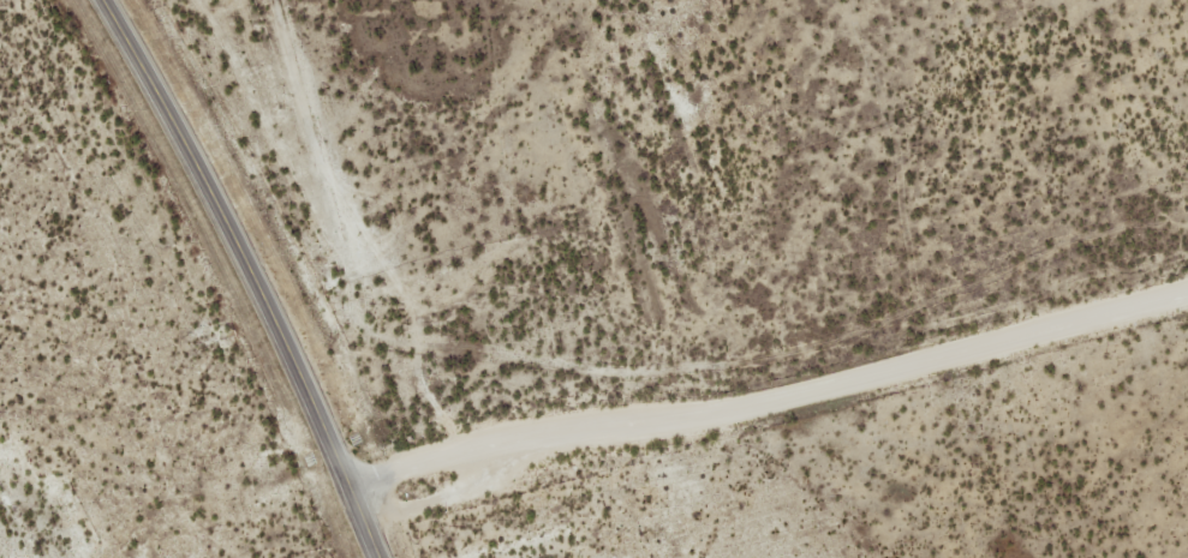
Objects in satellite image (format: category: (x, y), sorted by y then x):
road: (250, 272)
road: (769, 394)

